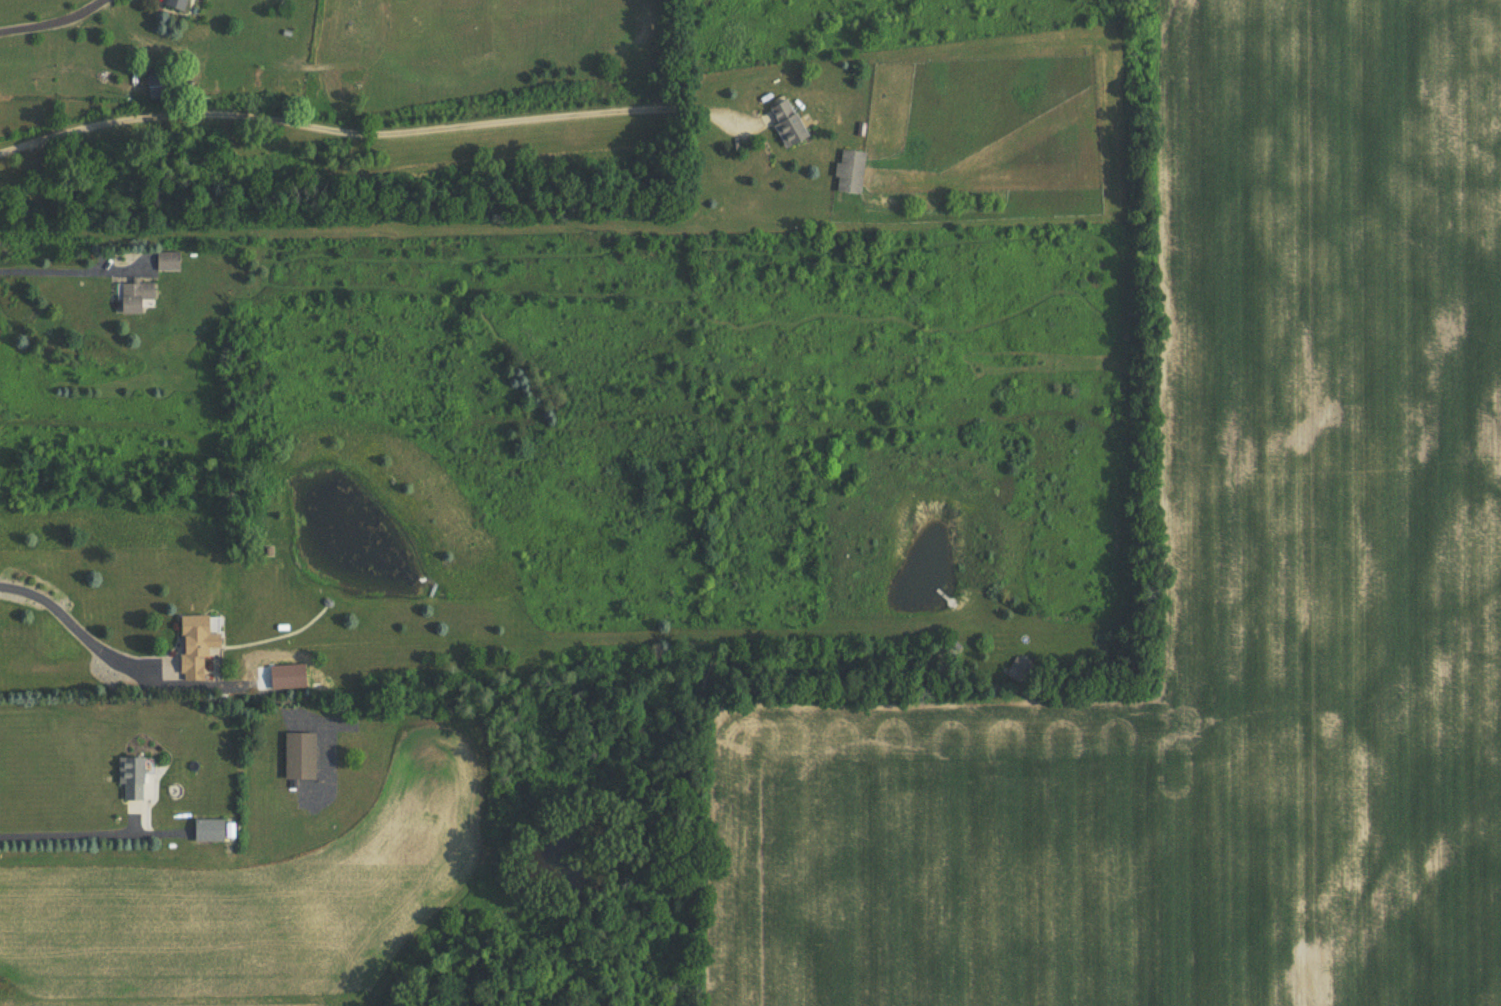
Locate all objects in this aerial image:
building: (184, 4)
road: (45, 13)
building: (168, 84)
road: (366, 123)
building: (784, 123)
building: (847, 171)
building: (171, 261)
road: (58, 262)
building: (139, 297)
road: (73, 618)
building: (199, 646)
building: (1018, 669)
building: (297, 756)
building: (134, 778)
road: (66, 829)
building: (209, 829)

